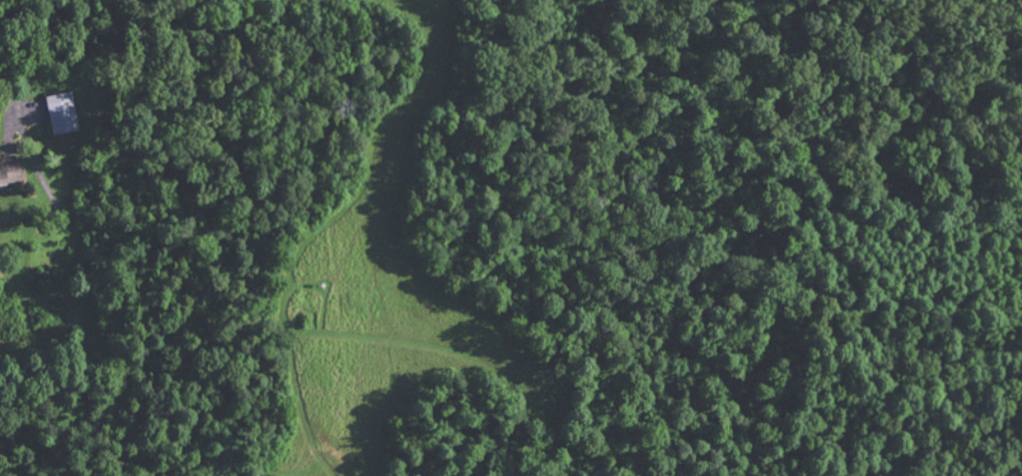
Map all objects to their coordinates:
building: (59, 112)
building: (9, 169)

